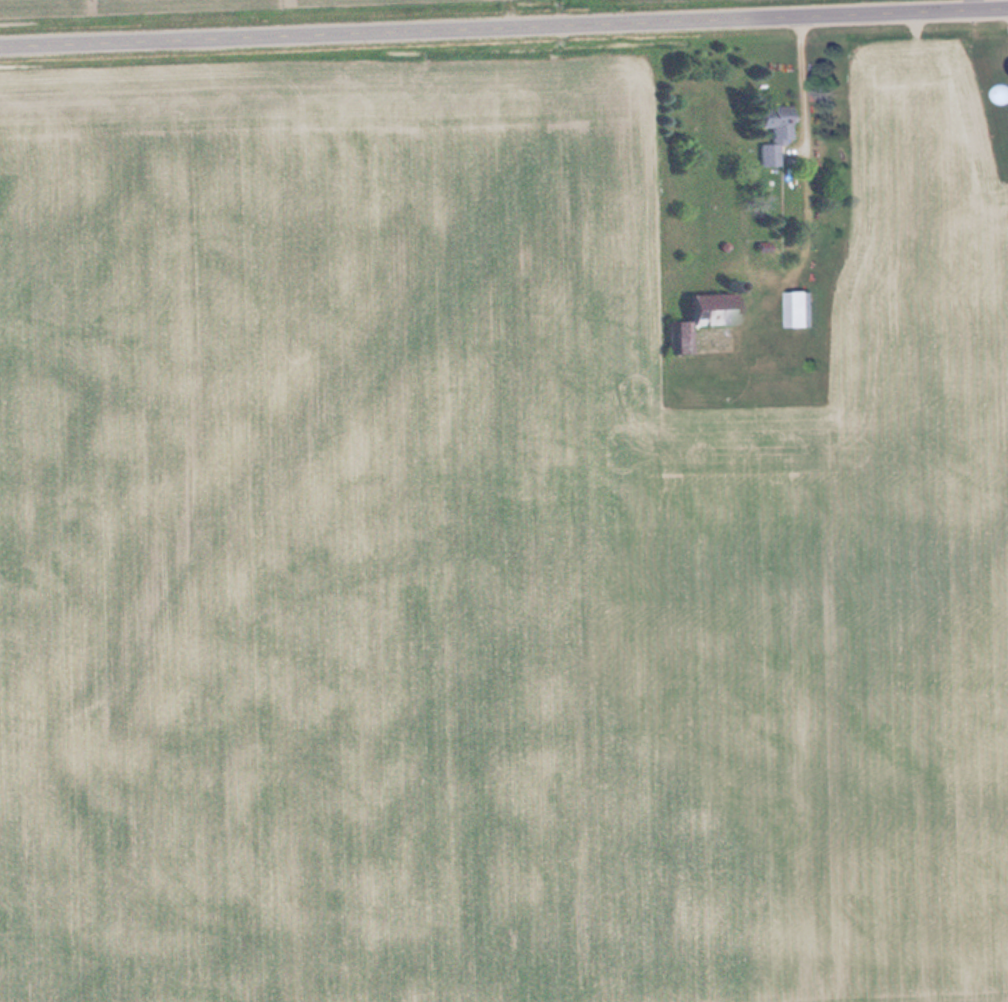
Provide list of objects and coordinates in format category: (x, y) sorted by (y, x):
road: (504, 25)
building: (779, 131)
building: (722, 308)
building: (807, 308)

